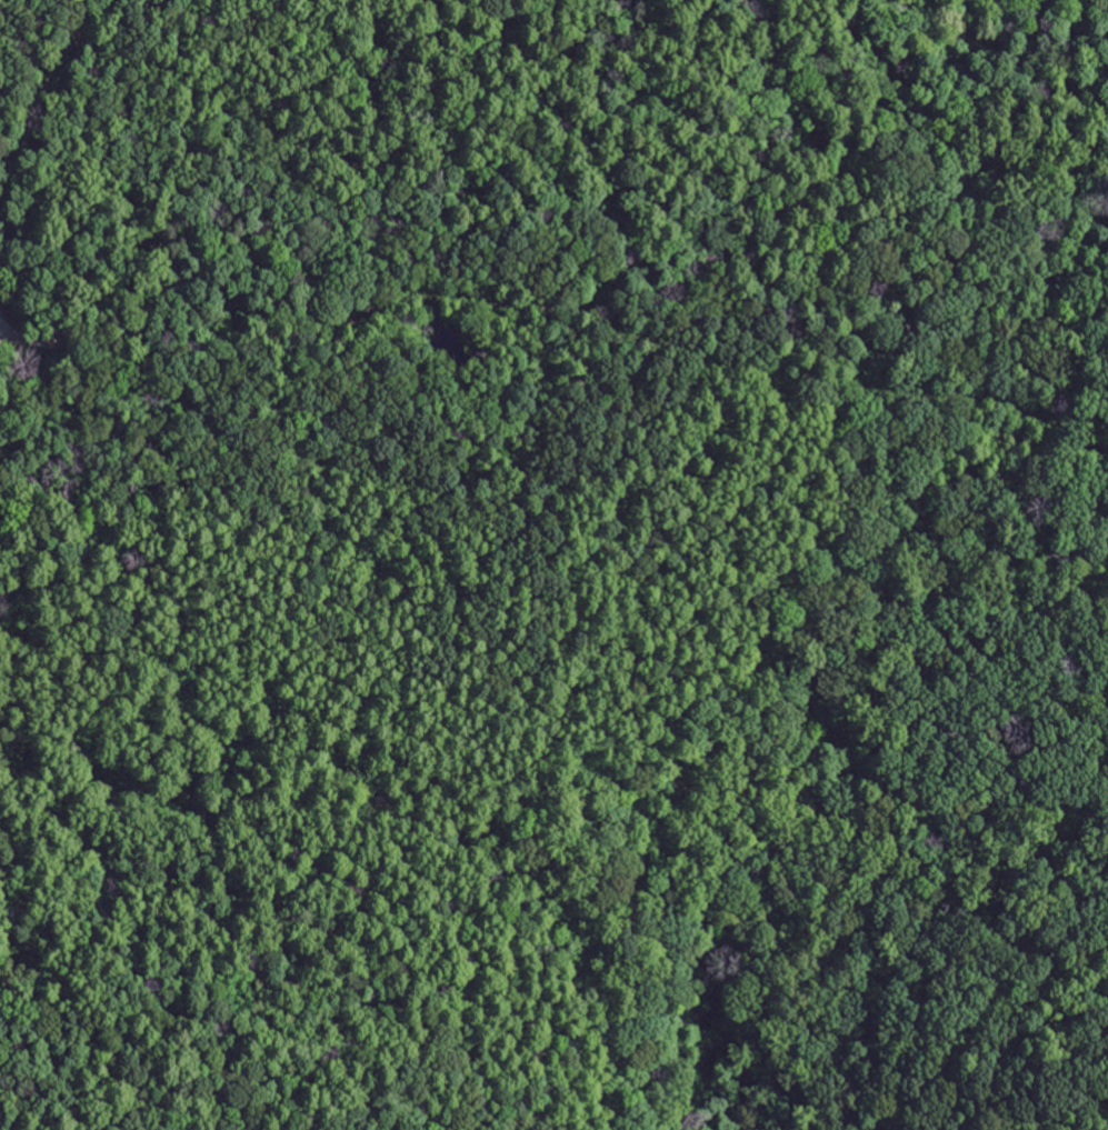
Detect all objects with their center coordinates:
road: (27, 118)
road: (38, 343)

